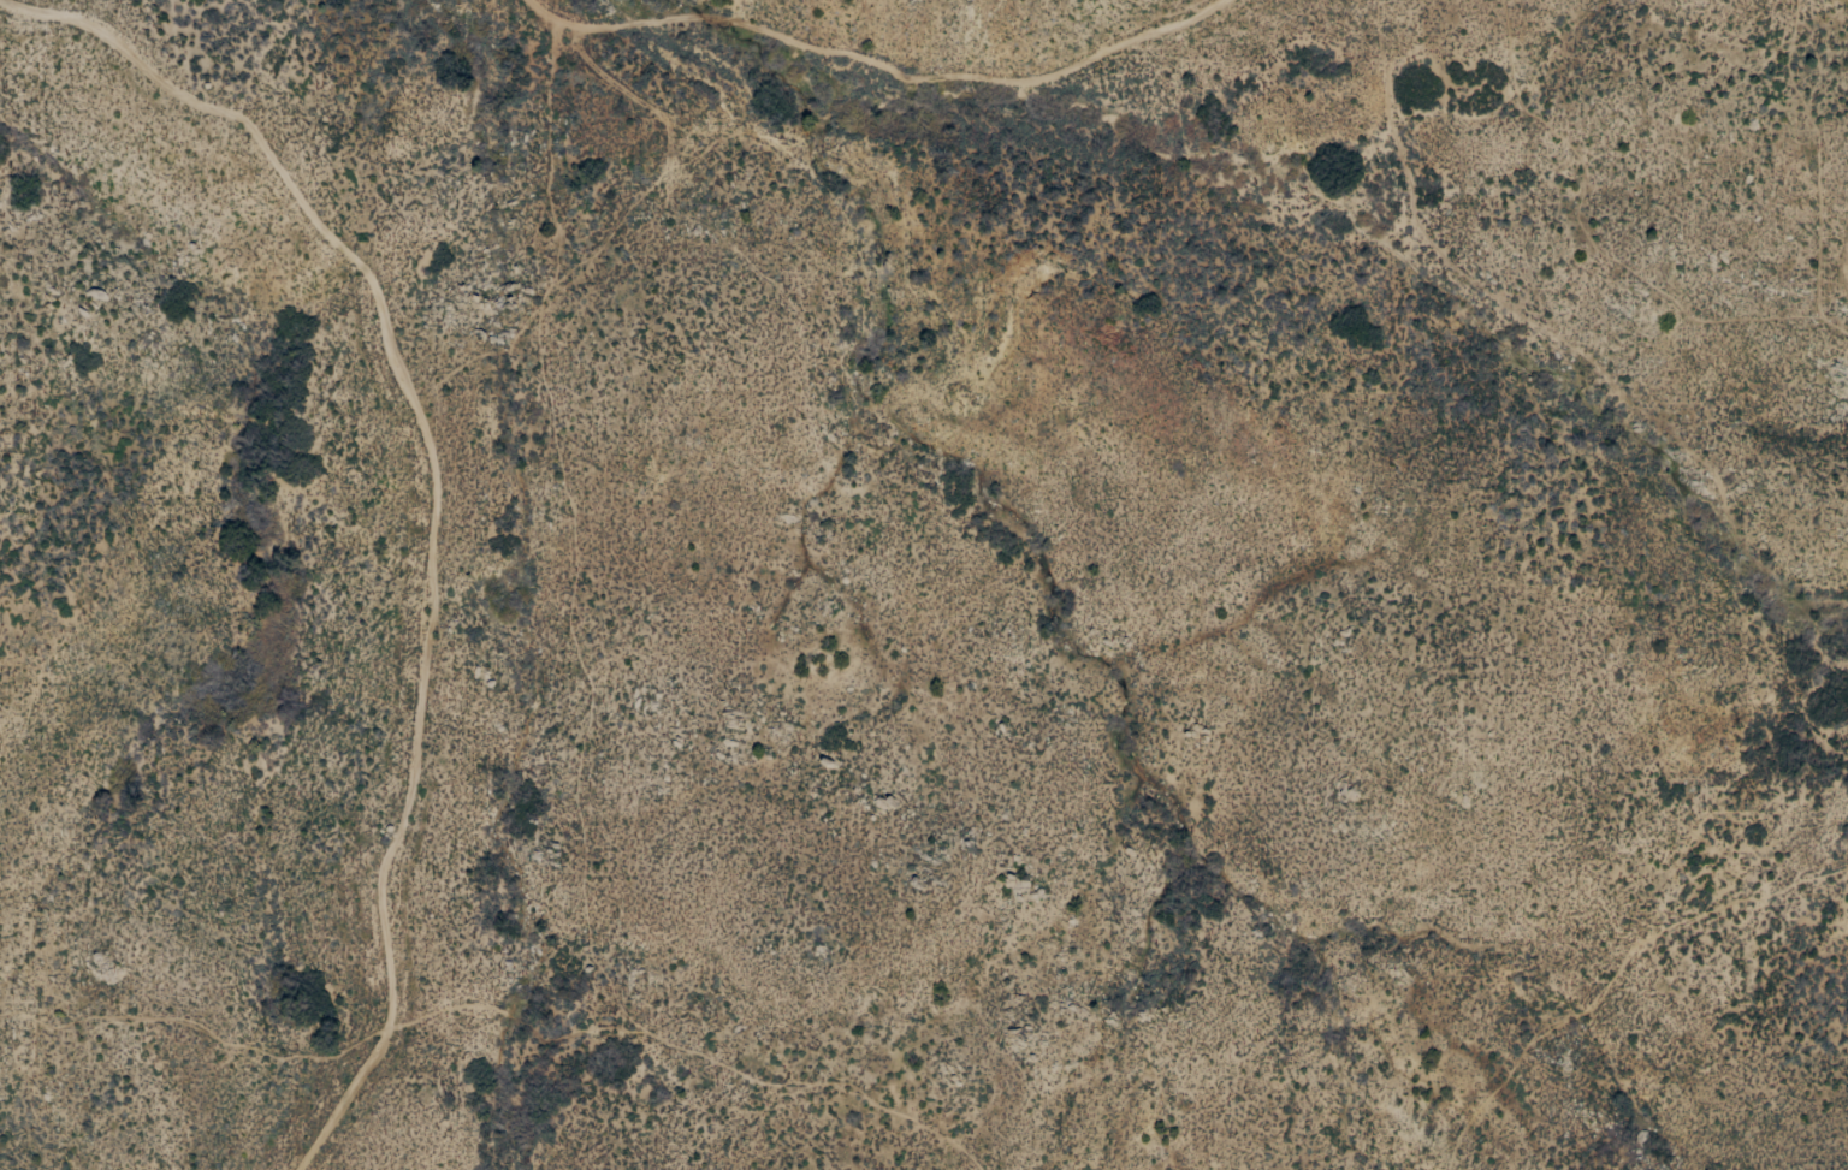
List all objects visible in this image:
road: (1013, 18)

